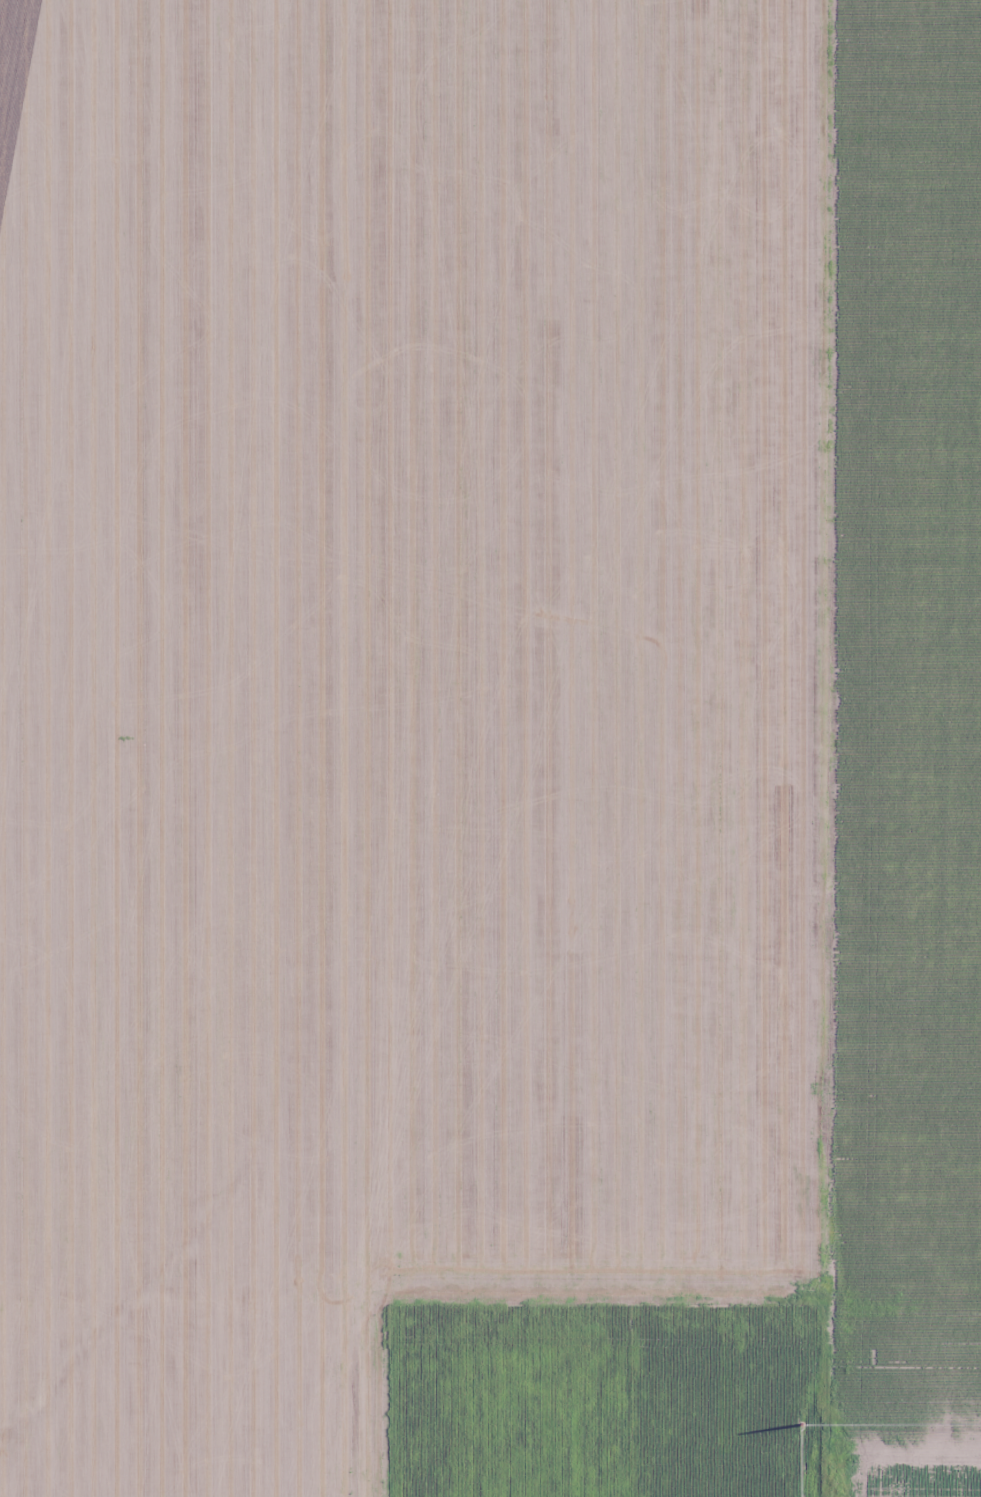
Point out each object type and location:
power tower: (802, 1423)

